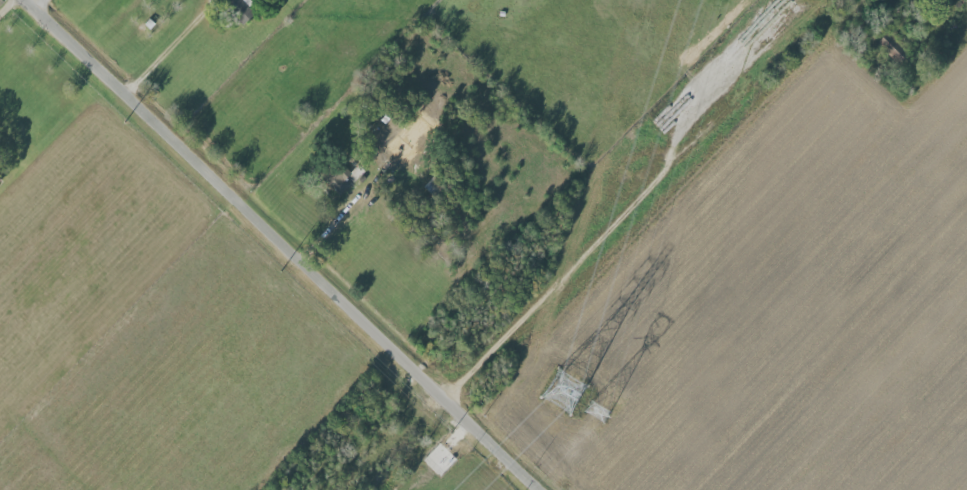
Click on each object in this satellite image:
road: (55, 7)
road: (8, 8)
building: (240, 9)
road: (172, 45)
building: (388, 132)
road: (620, 214)
railway: (573, 243)
road: (289, 245)
power tower: (564, 394)
power tower: (598, 413)

